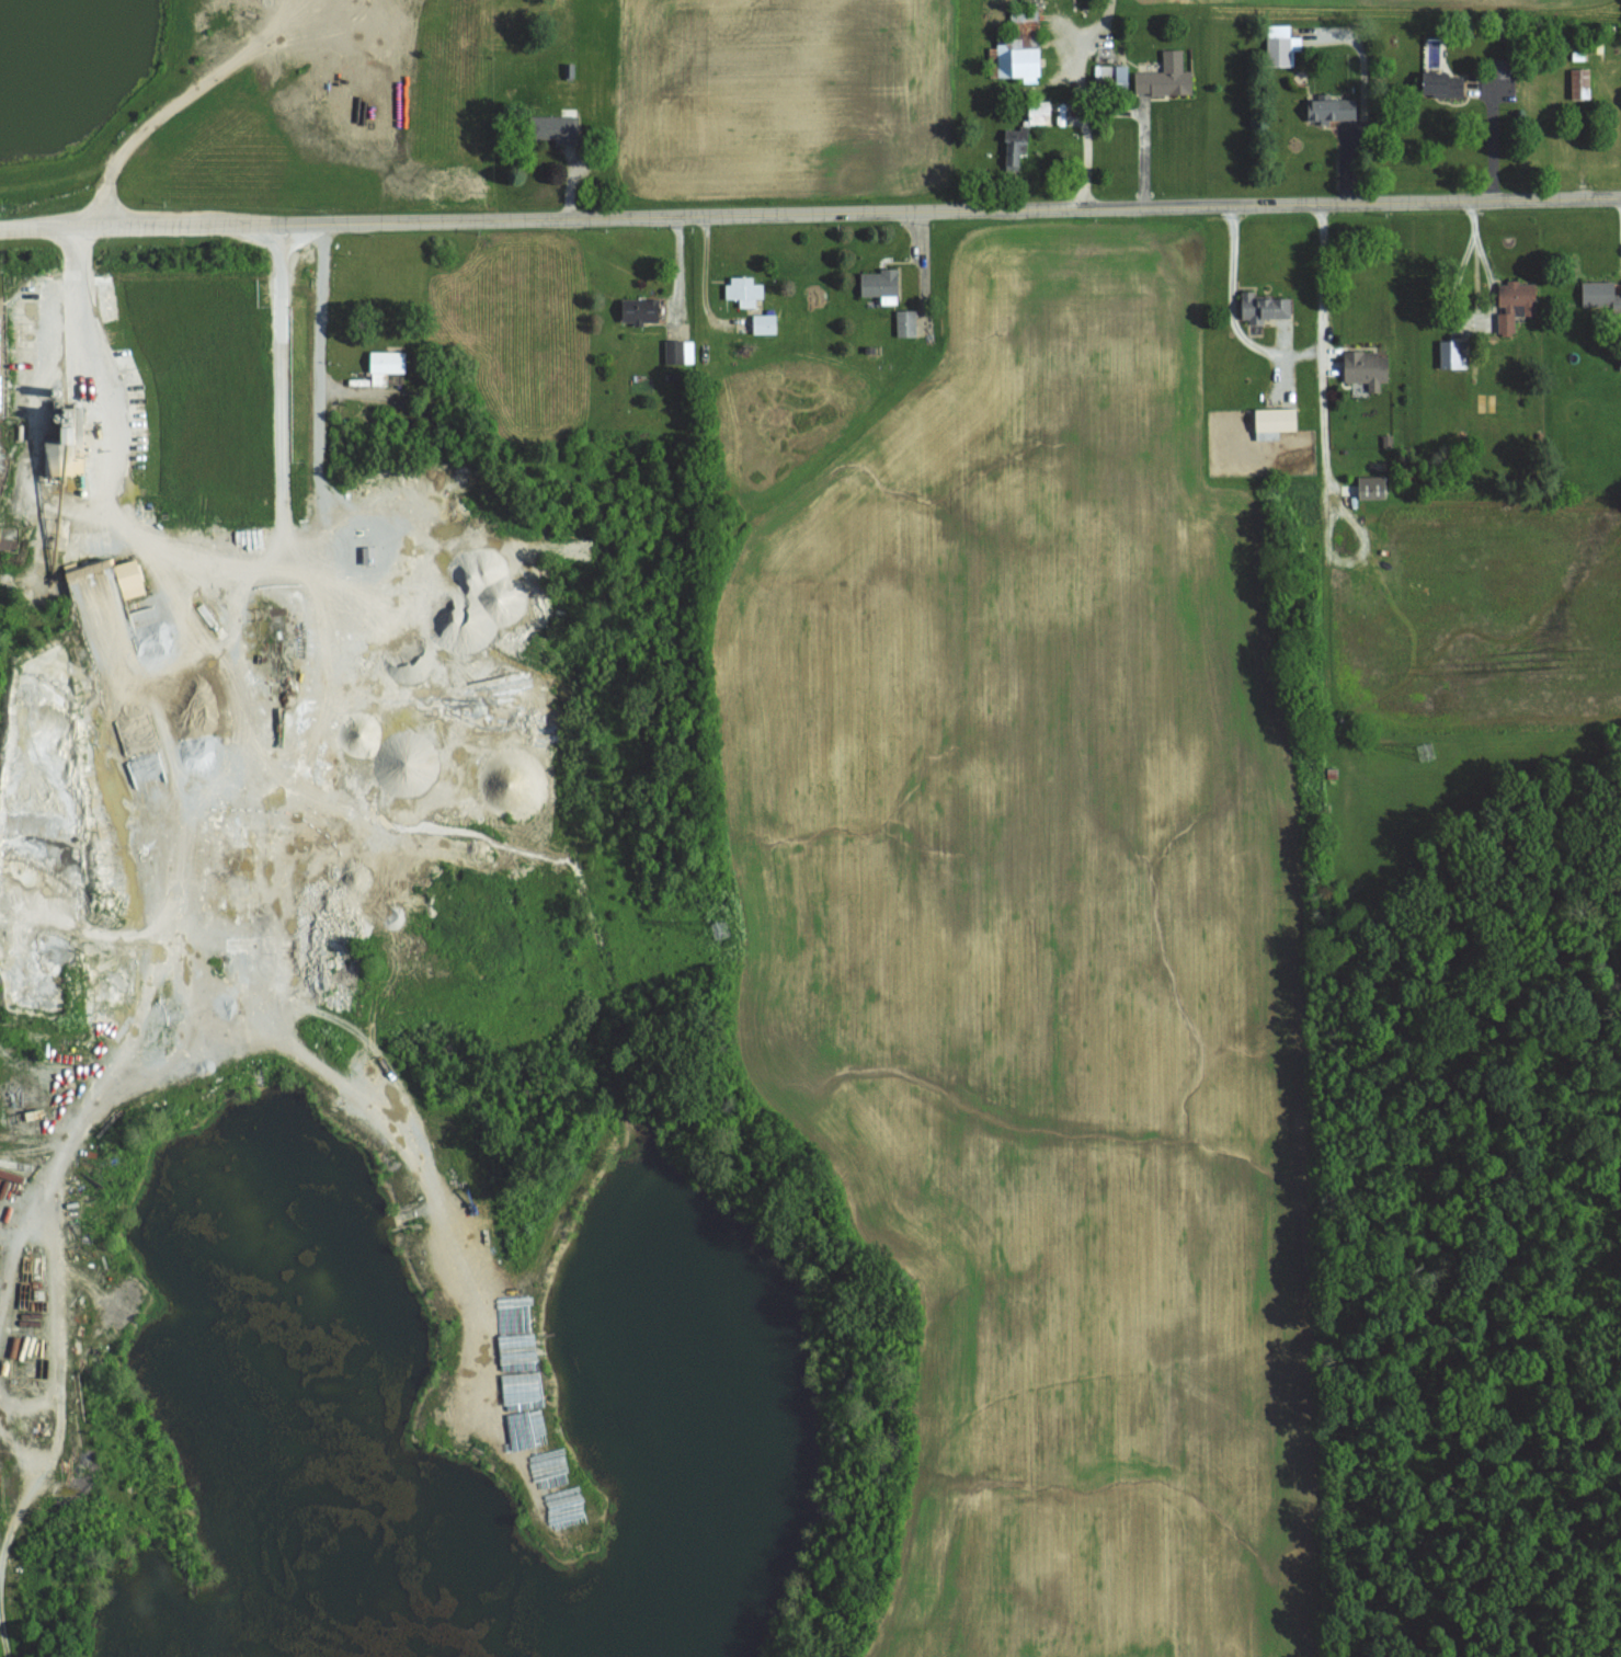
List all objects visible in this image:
building: (1024, 20)
road: (1095, 23)
building: (1280, 45)
building: (1016, 60)
building: (1499, 68)
building: (1111, 72)
building: (1164, 77)
building: (1440, 83)
building: (1578, 83)
road: (180, 94)
building: (1331, 110)
building: (1038, 114)
road: (1083, 124)
building: (556, 128)
road: (1143, 130)
road: (1492, 142)
building: (1014, 146)
road: (810, 212)
road: (924, 265)
road: (1321, 281)
building: (879, 285)
building: (742, 290)
building: (1599, 295)
building: (1514, 304)
road: (312, 306)
building: (1262, 307)
building: (638, 310)
road: (1459, 312)
road: (1230, 313)
building: (904, 322)
building: (763, 324)
building: (678, 352)
building: (1452, 353)
building: (385, 366)
building: (1365, 368)
building: (1272, 422)
road: (1322, 427)
building: (65, 446)
building: (1370, 488)
road: (210, 568)
building: (127, 579)
power tower: (1424, 752)
power tower: (718, 929)

